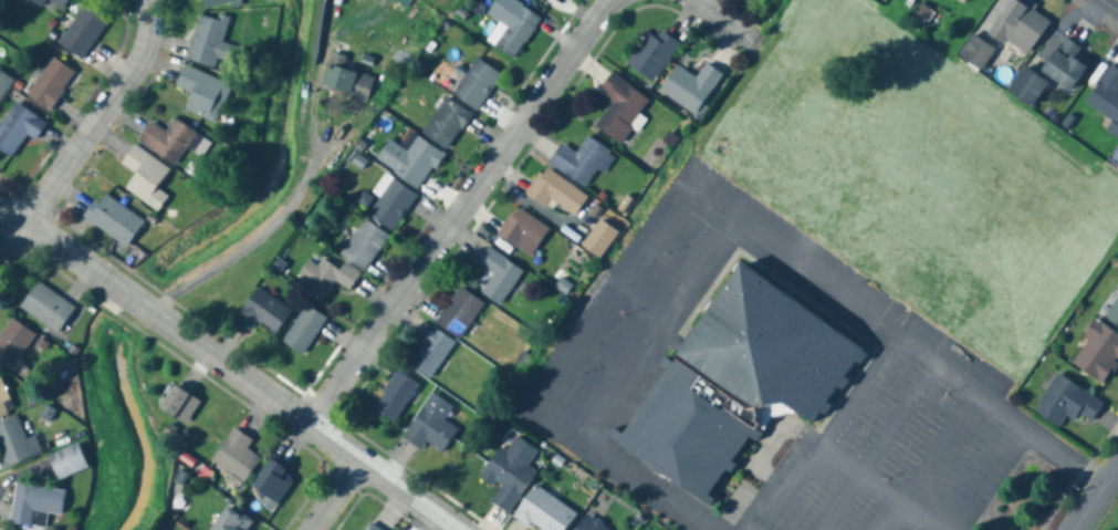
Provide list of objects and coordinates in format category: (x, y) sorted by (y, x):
building: (961, 1)
building: (50, 3)
building: (216, 3)
road: (1111, 3)
road: (701, 18)
building: (1018, 25)
building: (512, 30)
building: (81, 33)
building: (210, 42)
building: (975, 53)
building: (651, 55)
building: (1063, 64)
building: (344, 81)
building: (50, 85)
building: (476, 85)
building: (689, 87)
building: (202, 94)
building: (1106, 96)
building: (619, 108)
road: (101, 115)
building: (445, 124)
building: (18, 129)
building: (166, 141)
building: (1115, 156)
building: (408, 159)
building: (579, 162)
building: (144, 178)
building: (555, 194)
road: (466, 205)
building: (390, 206)
building: (113, 220)
building: (521, 232)
road: (648, 232)
road: (258, 237)
building: (599, 239)
road: (14, 243)
building: (363, 246)
building: (325, 278)
building: (498, 278)
building: (46, 308)
parking lot: (633, 308)
building: (262, 313)
building: (458, 314)
road: (651, 324)
building: (303, 331)
building: (1100, 342)
building: (13, 344)
building: (429, 354)
road: (228, 365)
building: (734, 381)
road: (858, 391)
road: (982, 397)
building: (394, 398)
building: (1069, 398)
building: (3, 402)
building: (177, 405)
building: (430, 425)
building: (13, 444)
road: (875, 446)
road: (815, 448)
building: (234, 456)
building: (66, 461)
building: (509, 471)
road: (975, 475)
building: (272, 480)
road: (1091, 493)
road: (334, 496)
building: (34, 505)
building: (543, 511)
road: (887, 517)
road: (916, 517)
park: (1110, 519)
building: (231, 520)
building: (367, 526)

